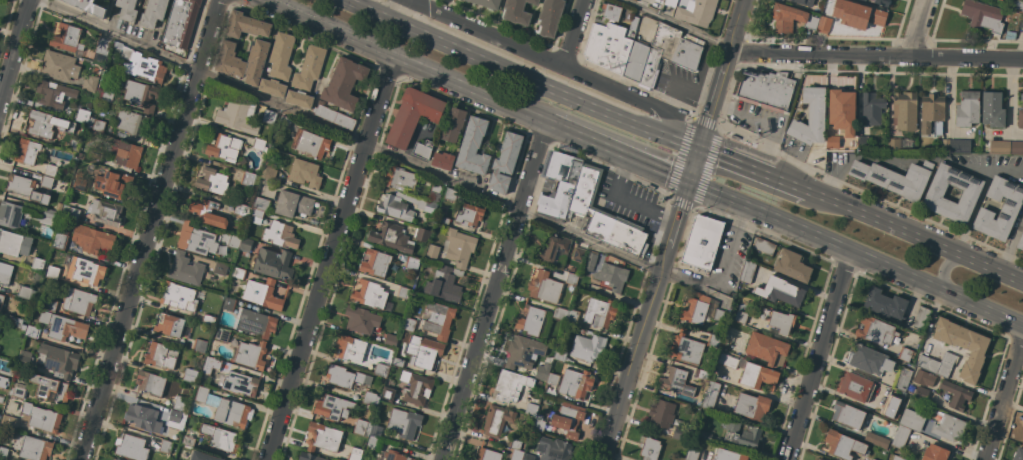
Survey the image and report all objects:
building: (864, 0)
building: (1001, 0)
building: (1007, 0)
road: (410, 2)
building: (670, 2)
building: (804, 2)
building: (882, 2)
building: (487, 3)
building: (1018, 6)
building: (88, 7)
building: (114, 9)
building: (127, 10)
building: (517, 11)
building: (696, 12)
building: (152, 13)
building: (610, 13)
building: (857, 14)
building: (982, 16)
building: (550, 17)
building: (790, 18)
building: (180, 22)
building: (634, 23)
road: (675, 23)
building: (1022, 24)
building: (246, 25)
building: (824, 25)
road: (737, 27)
road: (920, 29)
road: (572, 33)
road: (116, 34)
building: (1010, 34)
building: (66, 38)
building: (102, 45)
building: (677, 46)
building: (607, 47)
road: (15, 50)
building: (123, 51)
building: (281, 56)
road: (875, 58)
building: (230, 60)
building: (256, 61)
road: (402, 61)
building: (635, 61)
road: (555, 65)
building: (59, 66)
building: (309, 68)
building: (151, 69)
building: (649, 69)
road: (522, 76)
building: (89, 83)
building: (344, 83)
building: (272, 87)
building: (766, 90)
building: (53, 94)
building: (104, 95)
building: (141, 95)
building: (299, 98)
road: (1010, 107)
building: (872, 108)
building: (967, 109)
building: (992, 109)
building: (842, 110)
building: (905, 111)
building: (931, 111)
building: (237, 115)
building: (412, 115)
building: (1020, 115)
building: (82, 116)
building: (269, 116)
building: (333, 116)
building: (811, 117)
road: (708, 119)
building: (285, 121)
building: (132, 122)
building: (46, 124)
building: (96, 124)
building: (454, 125)
road: (1016, 132)
building: (832, 142)
building: (862, 142)
building: (258, 144)
building: (312, 144)
building: (894, 144)
building: (946, 144)
building: (74, 145)
traffic signals: (700, 146)
building: (959, 146)
building: (223, 147)
building: (473, 147)
building: (999, 147)
building: (1017, 147)
building: (423, 149)
building: (28, 152)
road: (618, 153)
building: (127, 154)
building: (94, 155)
road: (911, 159)
building: (443, 160)
road: (735, 161)
building: (505, 162)
building: (50, 170)
building: (269, 172)
road: (427, 172)
building: (305, 173)
building: (895, 178)
building: (248, 179)
building: (400, 179)
building: (212, 181)
building: (46, 182)
building: (560, 183)
building: (80, 184)
building: (113, 184)
traffic signals: (690, 185)
road: (791, 186)
building: (437, 187)
building: (26, 189)
building: (934, 193)
building: (450, 194)
road: (625, 200)
parking lot: (629, 202)
building: (261, 204)
building: (293, 204)
building: (402, 205)
building: (58, 207)
building: (1009, 209)
building: (242, 210)
building: (105, 212)
building: (70, 213)
building: (207, 213)
building: (10, 214)
building: (443, 215)
building: (469, 215)
building: (49, 216)
building: (257, 216)
road: (678, 216)
building: (603, 217)
road: (148, 229)
building: (280, 235)
building: (422, 235)
building: (391, 237)
building: (92, 239)
road: (916, 239)
building: (195, 240)
building: (60, 241)
building: (234, 241)
building: (1020, 242)
building: (14, 243)
building: (246, 244)
building: (702, 244)
road: (1011, 245)
building: (764, 246)
building: (459, 247)
building: (553, 248)
building: (432, 252)
building: (579, 254)
road: (856, 254)
road: (332, 259)
building: (590, 261)
building: (375, 263)
building: (412, 263)
building: (37, 264)
building: (274, 264)
road: (951, 264)
building: (792, 266)
building: (220, 269)
building: (185, 270)
building: (52, 272)
building: (88, 272)
building: (748, 272)
building: (5, 273)
building: (238, 273)
building: (612, 276)
building: (37, 277)
building: (572, 279)
building: (444, 283)
building: (231, 287)
building: (545, 287)
road: (492, 290)
building: (780, 291)
building: (24, 292)
building: (403, 293)
building: (262, 294)
building: (370, 295)
building: (178, 297)
building: (1, 300)
building: (81, 302)
building: (48, 304)
building: (229, 304)
building: (884, 304)
building: (694, 310)
building: (599, 312)
building: (560, 313)
building: (742, 313)
building: (720, 315)
building: (572, 317)
building: (209, 319)
building: (530, 319)
building: (921, 319)
building: (361, 320)
building: (438, 320)
building: (779, 320)
building: (16, 322)
building: (255, 323)
building: (409, 324)
building: (169, 325)
building: (63, 326)
building: (31, 331)
building: (876, 331)
building: (222, 335)
building: (390, 340)
building: (199, 346)
building: (963, 346)
building: (588, 347)
building: (689, 347)
building: (350, 348)
building: (767, 349)
building: (424, 352)
building: (524, 352)
road: (635, 353)
building: (905, 354)
building: (252, 355)
building: (560, 355)
road: (818, 355)
building: (161, 356)
building: (25, 359)
building: (869, 359)
building: (57, 360)
building: (727, 361)
building: (398, 362)
building: (937, 364)
building: (211, 365)
building: (381, 370)
building: (542, 372)
building: (702, 374)
building: (190, 375)
building: (757, 376)
building: (346, 377)
building: (902, 378)
building: (924, 378)
building: (553, 380)
building: (676, 381)
building: (3, 382)
building: (150, 383)
building: (240, 383)
building: (576, 383)
building: (510, 386)
building: (855, 386)
building: (416, 388)
building: (50, 389)
building: (17, 392)
building: (921, 393)
building: (388, 394)
building: (956, 394)
building: (709, 395)
building: (1, 398)
building: (370, 399)
road: (1004, 400)
building: (179, 404)
building: (13, 406)
building: (752, 406)
building: (333, 407)
building: (532, 407)
building: (891, 407)
building: (226, 409)
building: (662, 413)
building: (0, 415)
building: (847, 415)
building: (40, 418)
building: (143, 418)
building: (568, 419)
building: (912, 419)
building: (176, 420)
building: (496, 420)
building: (8, 422)
building: (404, 423)
building: (539, 423)
building: (949, 427)
building: (363, 428)
building: (376, 431)
building: (682, 434)
building: (743, 434)
building: (704, 436)
building: (900, 436)
building: (323, 437)
building: (1021, 437)
building: (220, 438)
building: (876, 440)
building: (188, 441)
building: (373, 442)
building: (515, 443)
building: (844, 445)
building: (131, 447)
building: (166, 447)
building: (649, 448)
building: (35, 449)
building: (551, 450)
building: (3, 452)
building: (354, 453)
building: (692, 453)
building: (935, 453)
building: (488, 454)
building: (1018, 454)
building: (517, 455)
building: (728, 455)
building: (202, 456)
building: (395, 456)
building: (309, 457)
building: (898, 458)
building: (110, 459)
building: (114, 459)
building: (815, 459)
building: (819, 459)
building: (873, 459)

